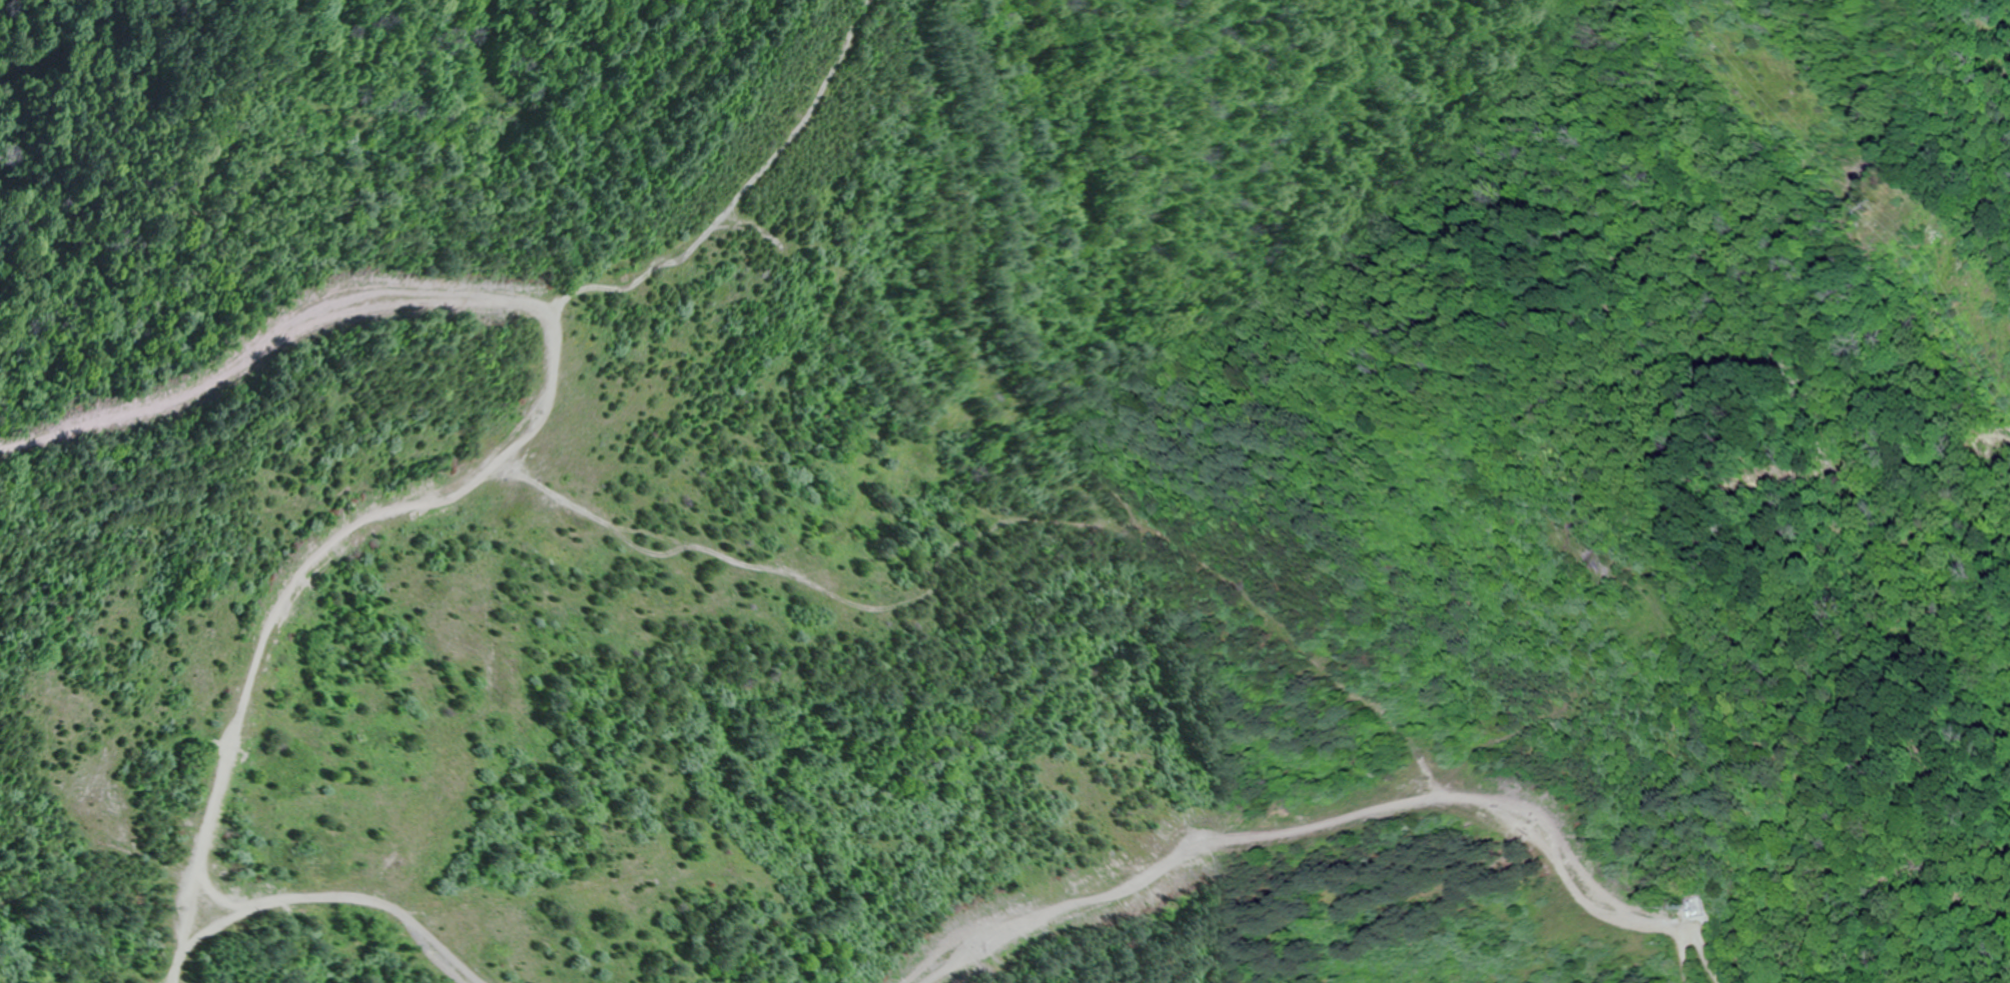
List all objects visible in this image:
road: (1914, 657)

